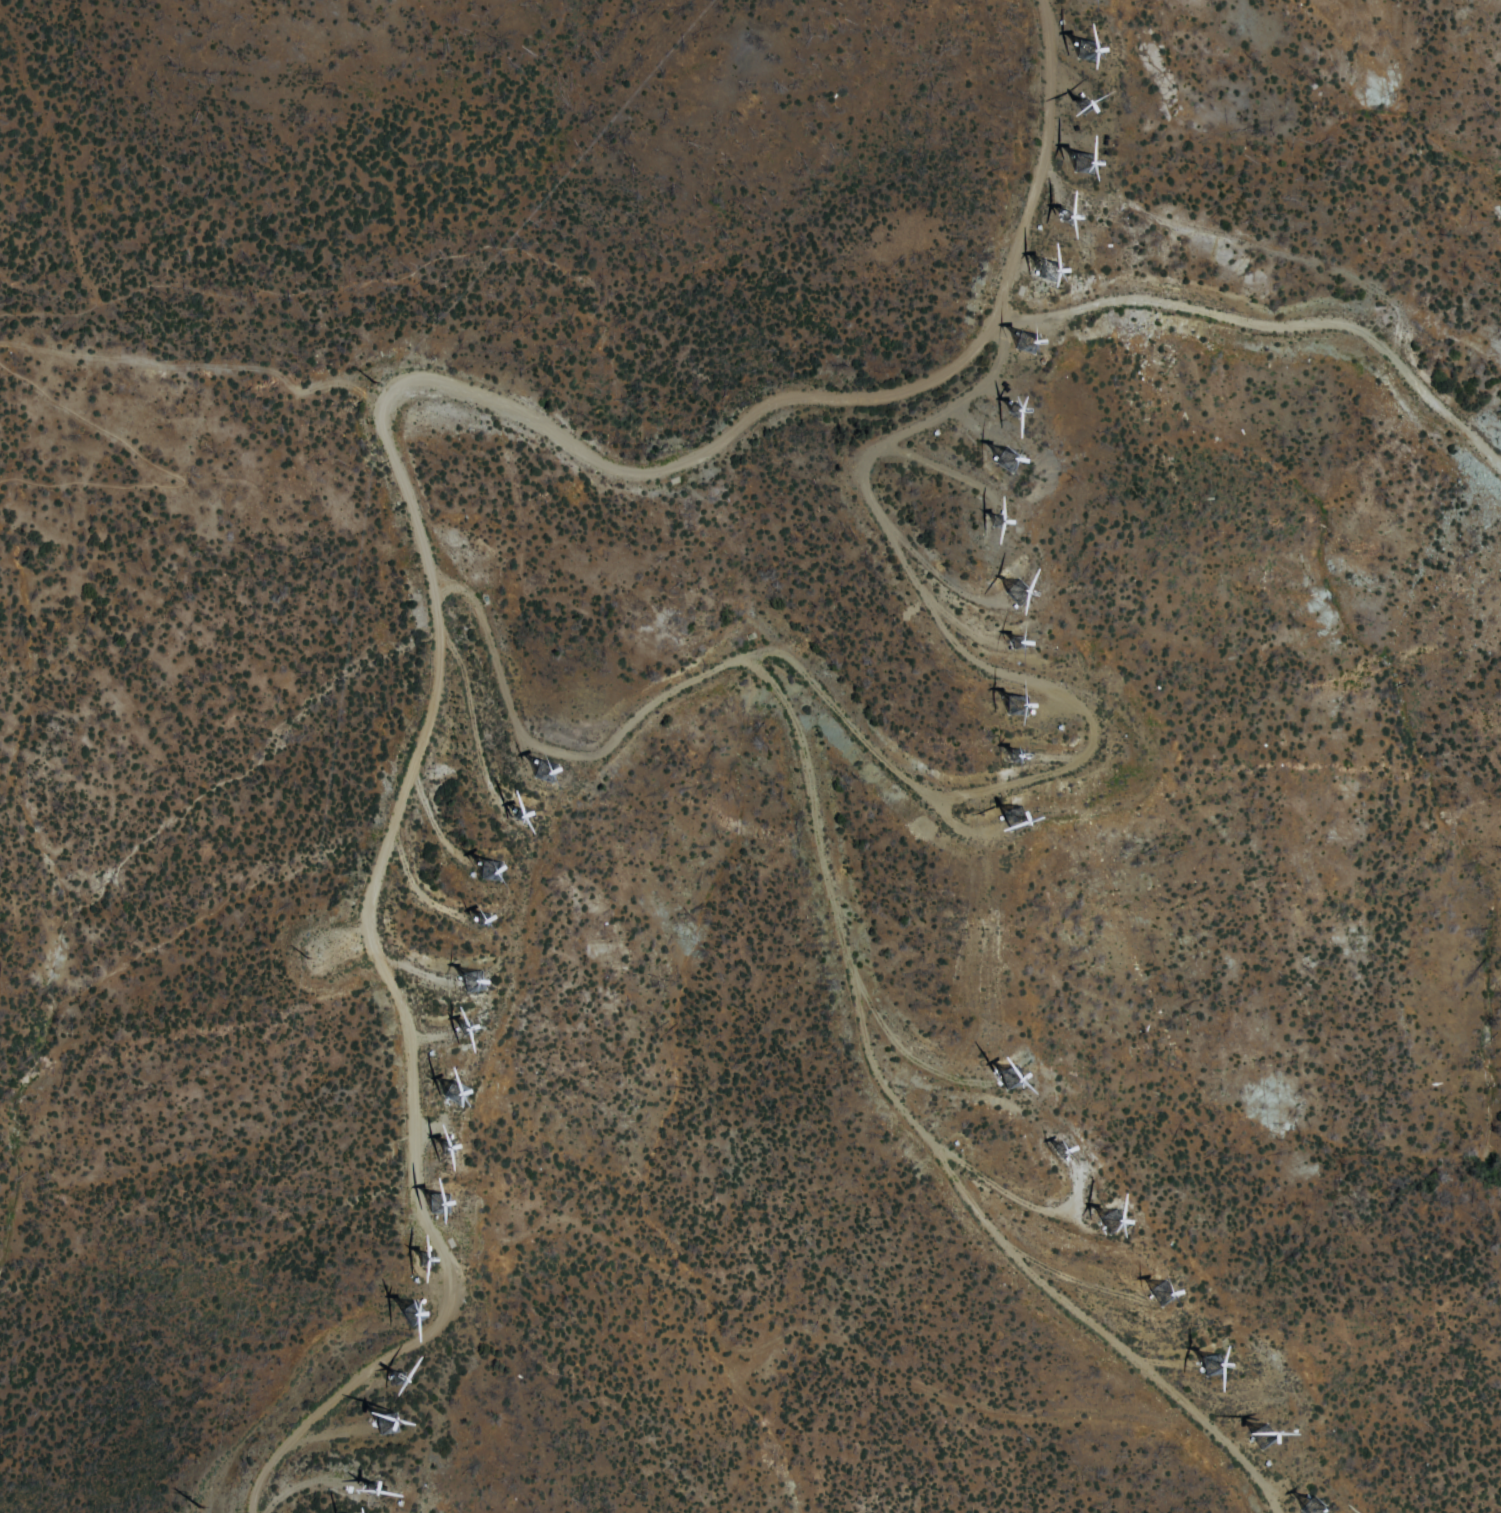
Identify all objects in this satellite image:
wind turbine: (1085, 48)
wind turbine: (1081, 108)
building: (1084, 163)
wind turbine: (1079, 166)
road: (66, 205)
wind turbine: (1063, 221)
wind turbine: (1053, 271)
road: (1264, 319)
wind turbine: (1020, 343)
wind turbine: (1013, 414)
wind turbine: (1007, 466)
road: (173, 471)
road: (404, 509)
wind turbine: (995, 524)
wind turbine: (1018, 594)
wind turbine: (1015, 638)
wind turbine: (1017, 708)
wind turbine: (1013, 756)
wind turbine: (538, 769)
road: (966, 789)
wind turbine: (516, 813)
wind turbine: (1016, 817)
wind turbine: (487, 868)
building: (486, 870)
wind turbine: (479, 921)
wind turbine: (467, 977)
wind turbine: (461, 1022)
wind turbine: (1009, 1074)
building: (1011, 1079)
wind turbine: (451, 1092)
building: (455, 1093)
road: (927, 1135)
wind turbine: (445, 1146)
wind turbine: (1059, 1153)
wind turbine: (439, 1203)
wind turbine: (1105, 1214)
wind turbine: (420, 1258)
wind turbine: (1158, 1293)
wind turbine: (410, 1309)
building: (412, 1314)
wind turbine: (1204, 1365)
wind turbine: (397, 1375)
wind turbine: (386, 1423)
building: (1263, 1437)
wind turbine: (1258, 1440)
wind turbine: (373, 1487)
wind turbine: (1310, 1508)

